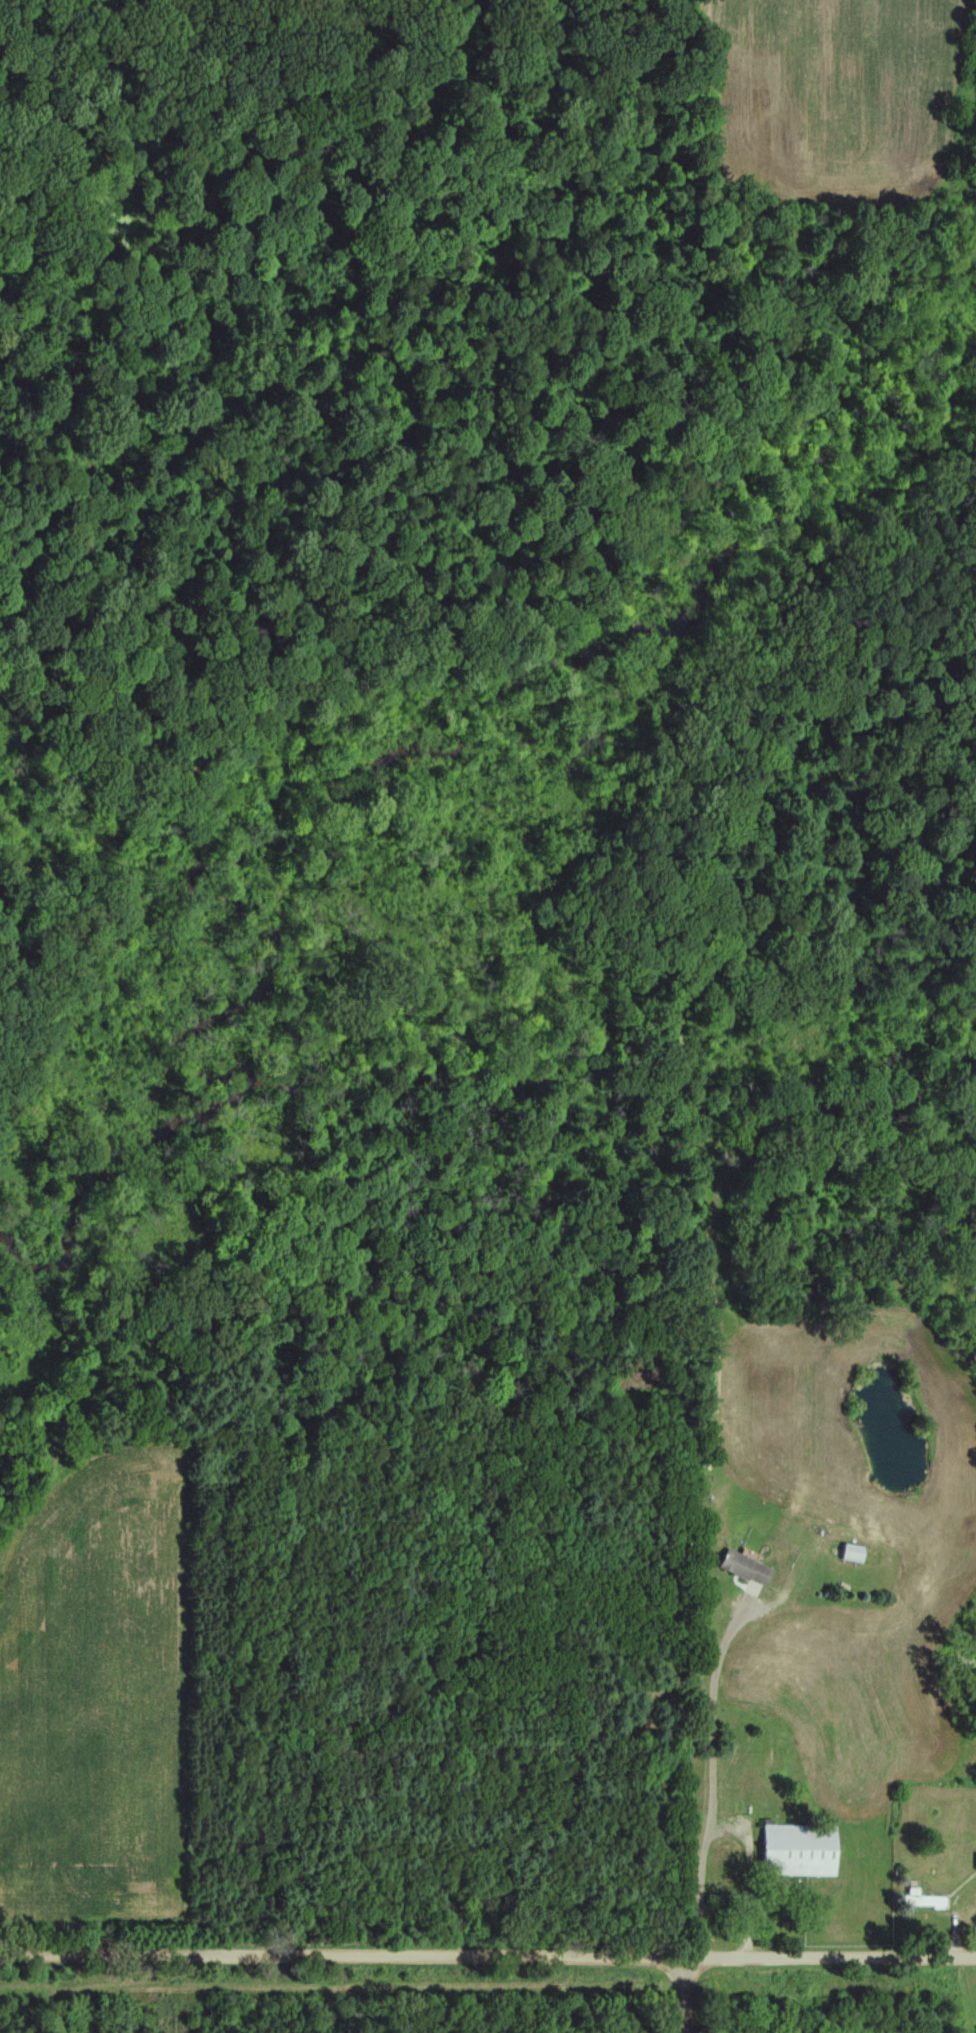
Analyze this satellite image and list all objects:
building: (738, 1568)
road: (707, 1783)
building: (793, 1850)
building: (973, 1861)
road: (746, 1872)
building: (918, 1900)
road: (488, 1957)
road: (683, 1996)

